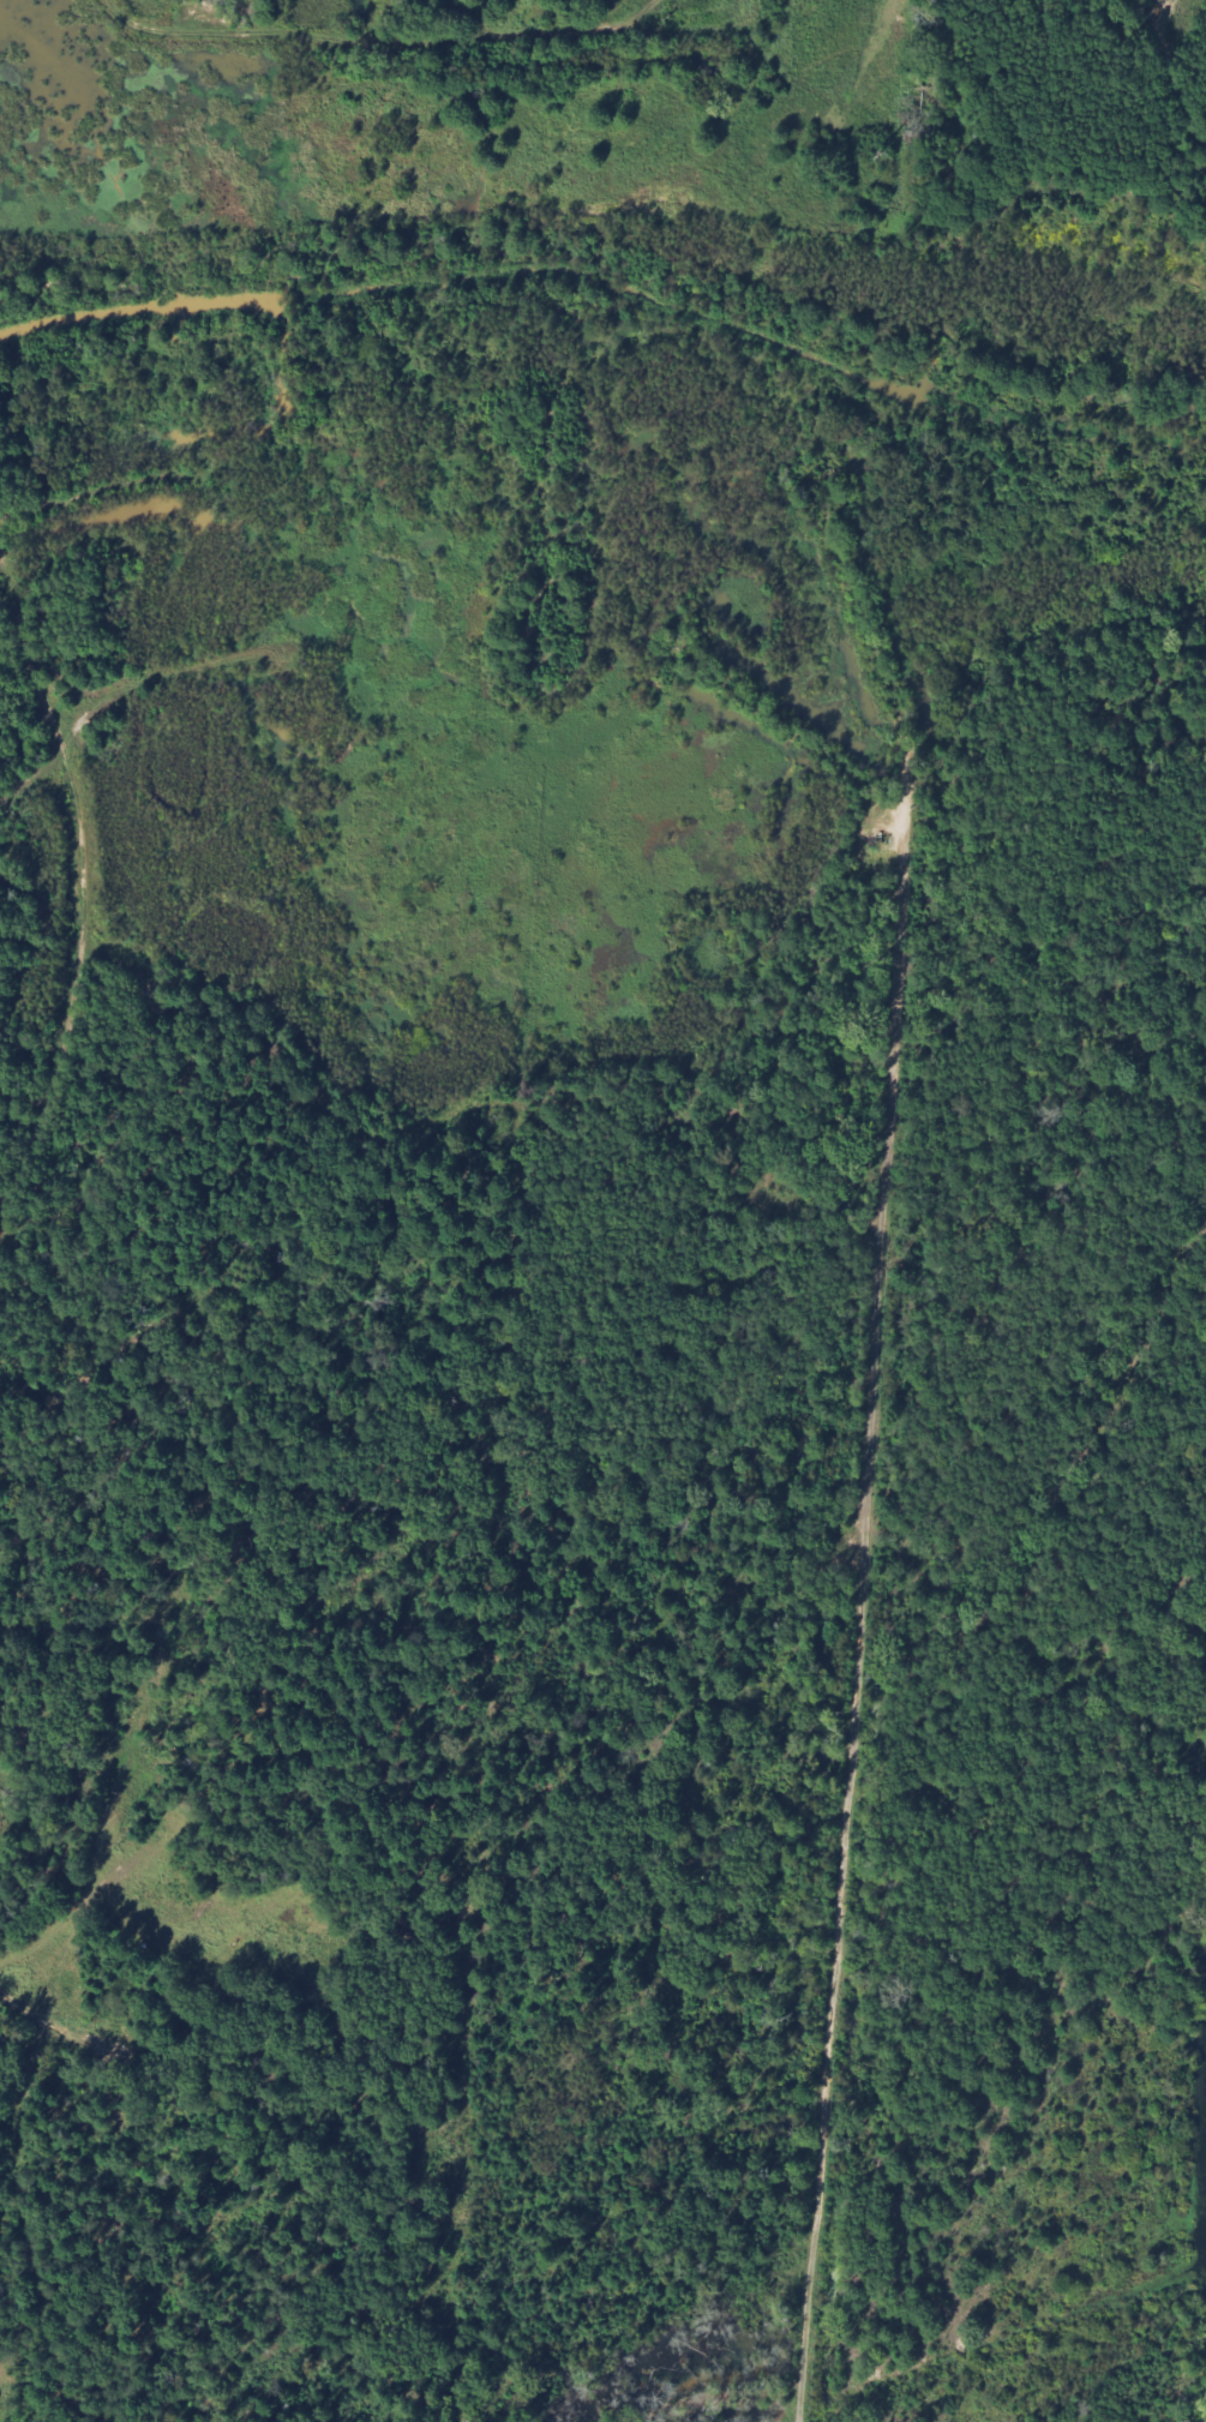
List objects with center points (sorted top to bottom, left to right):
road: (1166, 80)

